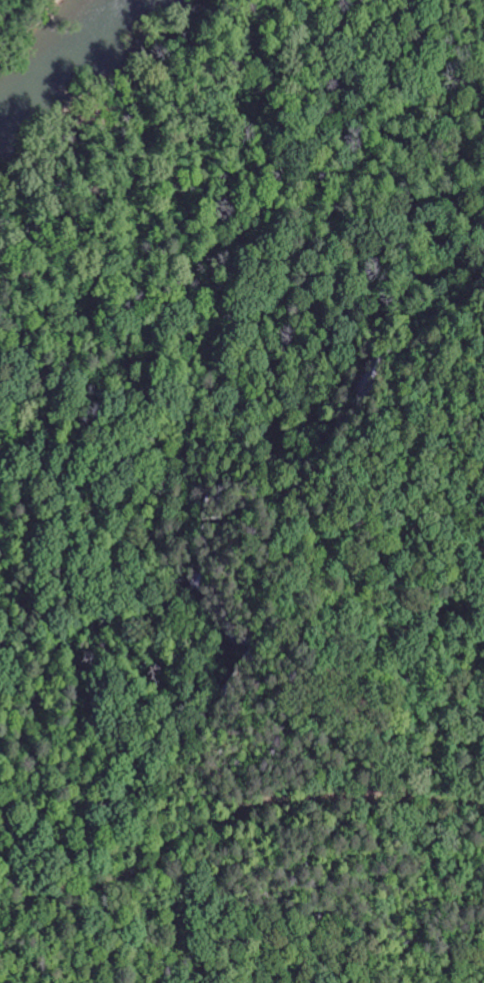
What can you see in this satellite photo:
river: (68, 63)
road: (223, 250)

